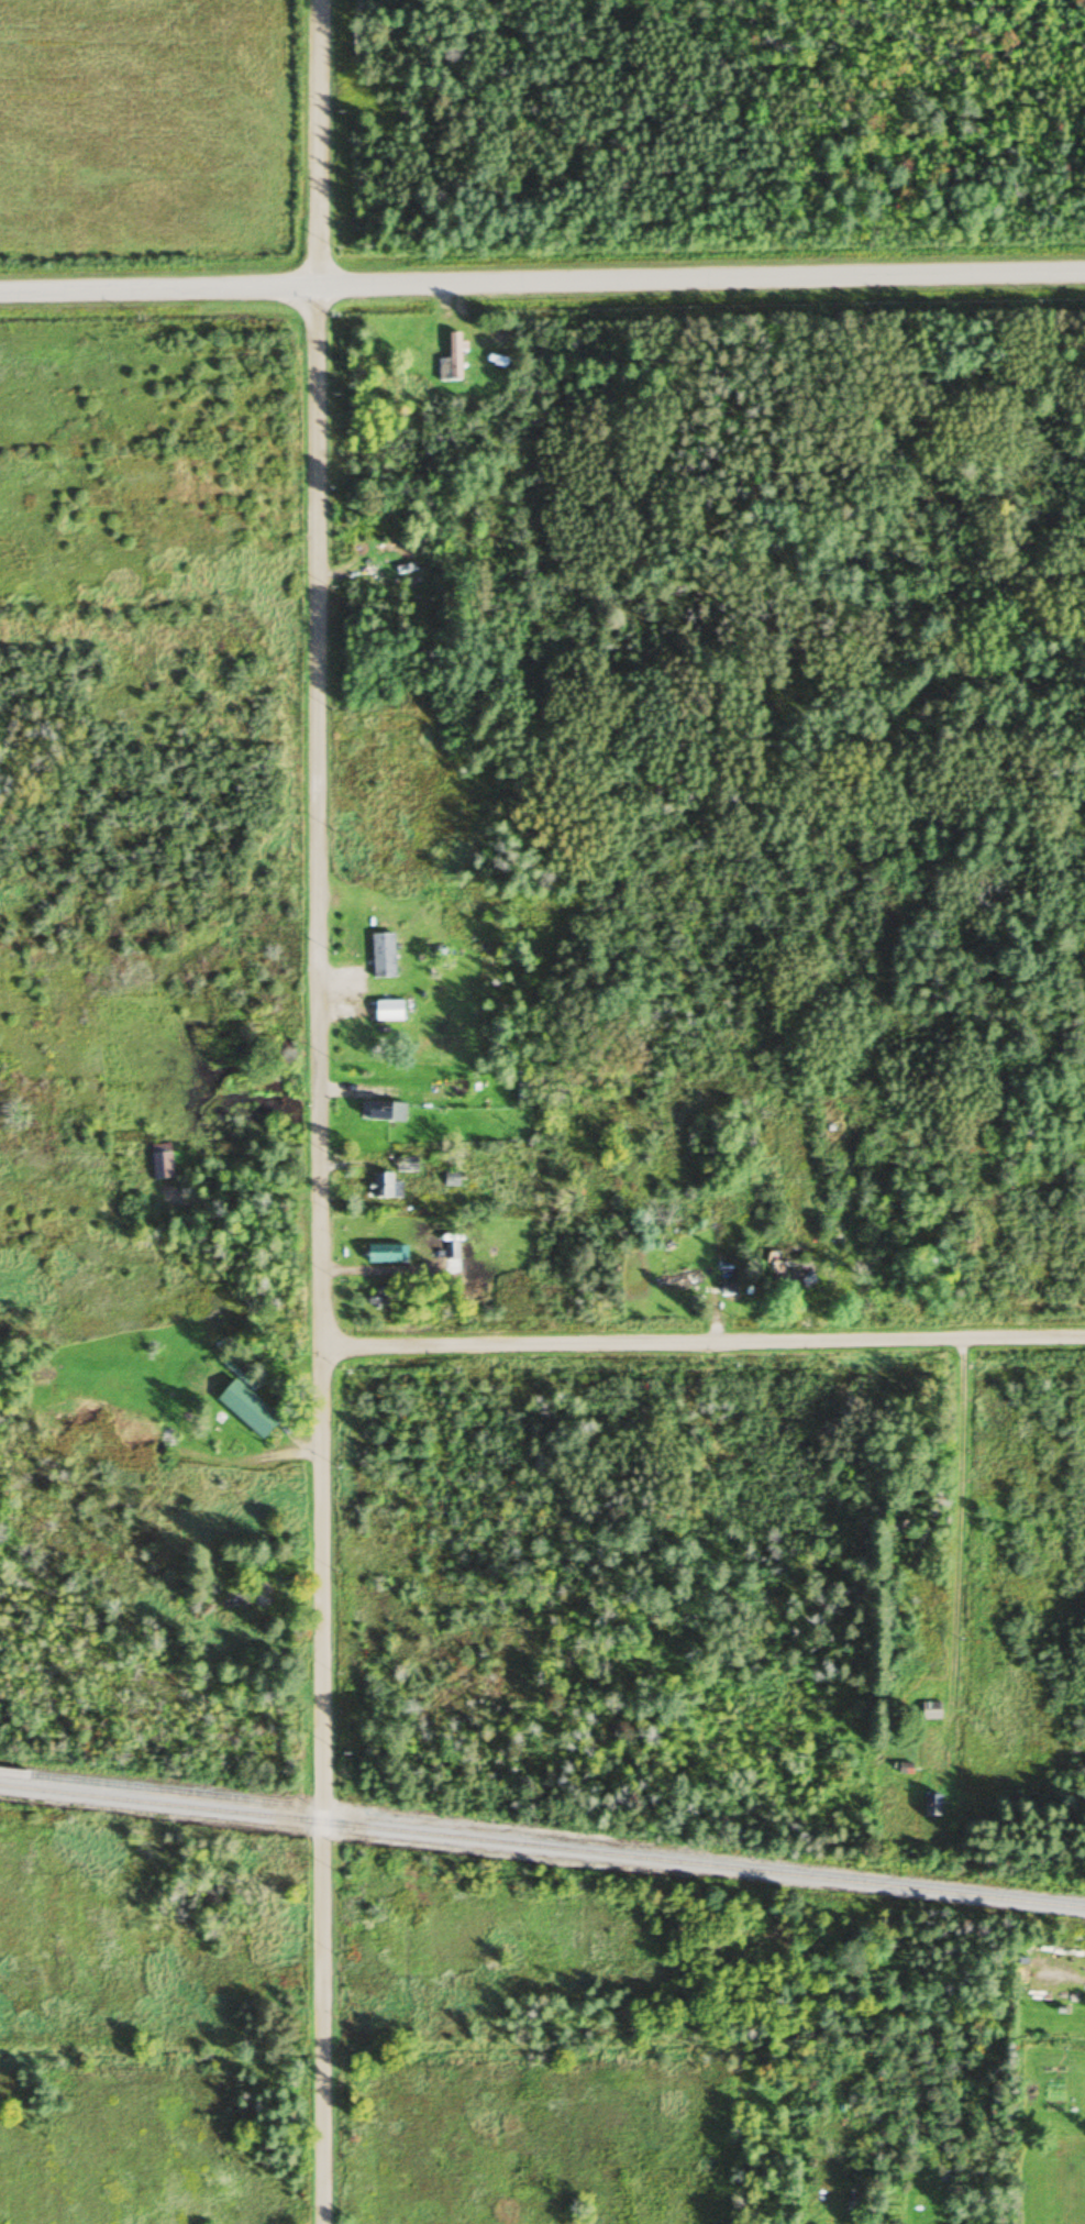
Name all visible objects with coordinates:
road: (315, 142)
road: (542, 280)
building: (451, 361)
building: (381, 955)
building: (381, 1112)
building: (406, 1160)
building: (449, 1179)
building: (384, 1187)
building: (450, 1251)
road: (315, 1254)
building: (383, 1254)
building: (925, 1260)
building: (800, 1265)
building: (686, 1279)
building: (381, 1297)
road: (700, 1340)
road: (961, 1570)
building: (930, 1710)
railway: (145, 1788)
building: (931, 1806)
railway: (542, 1848)

